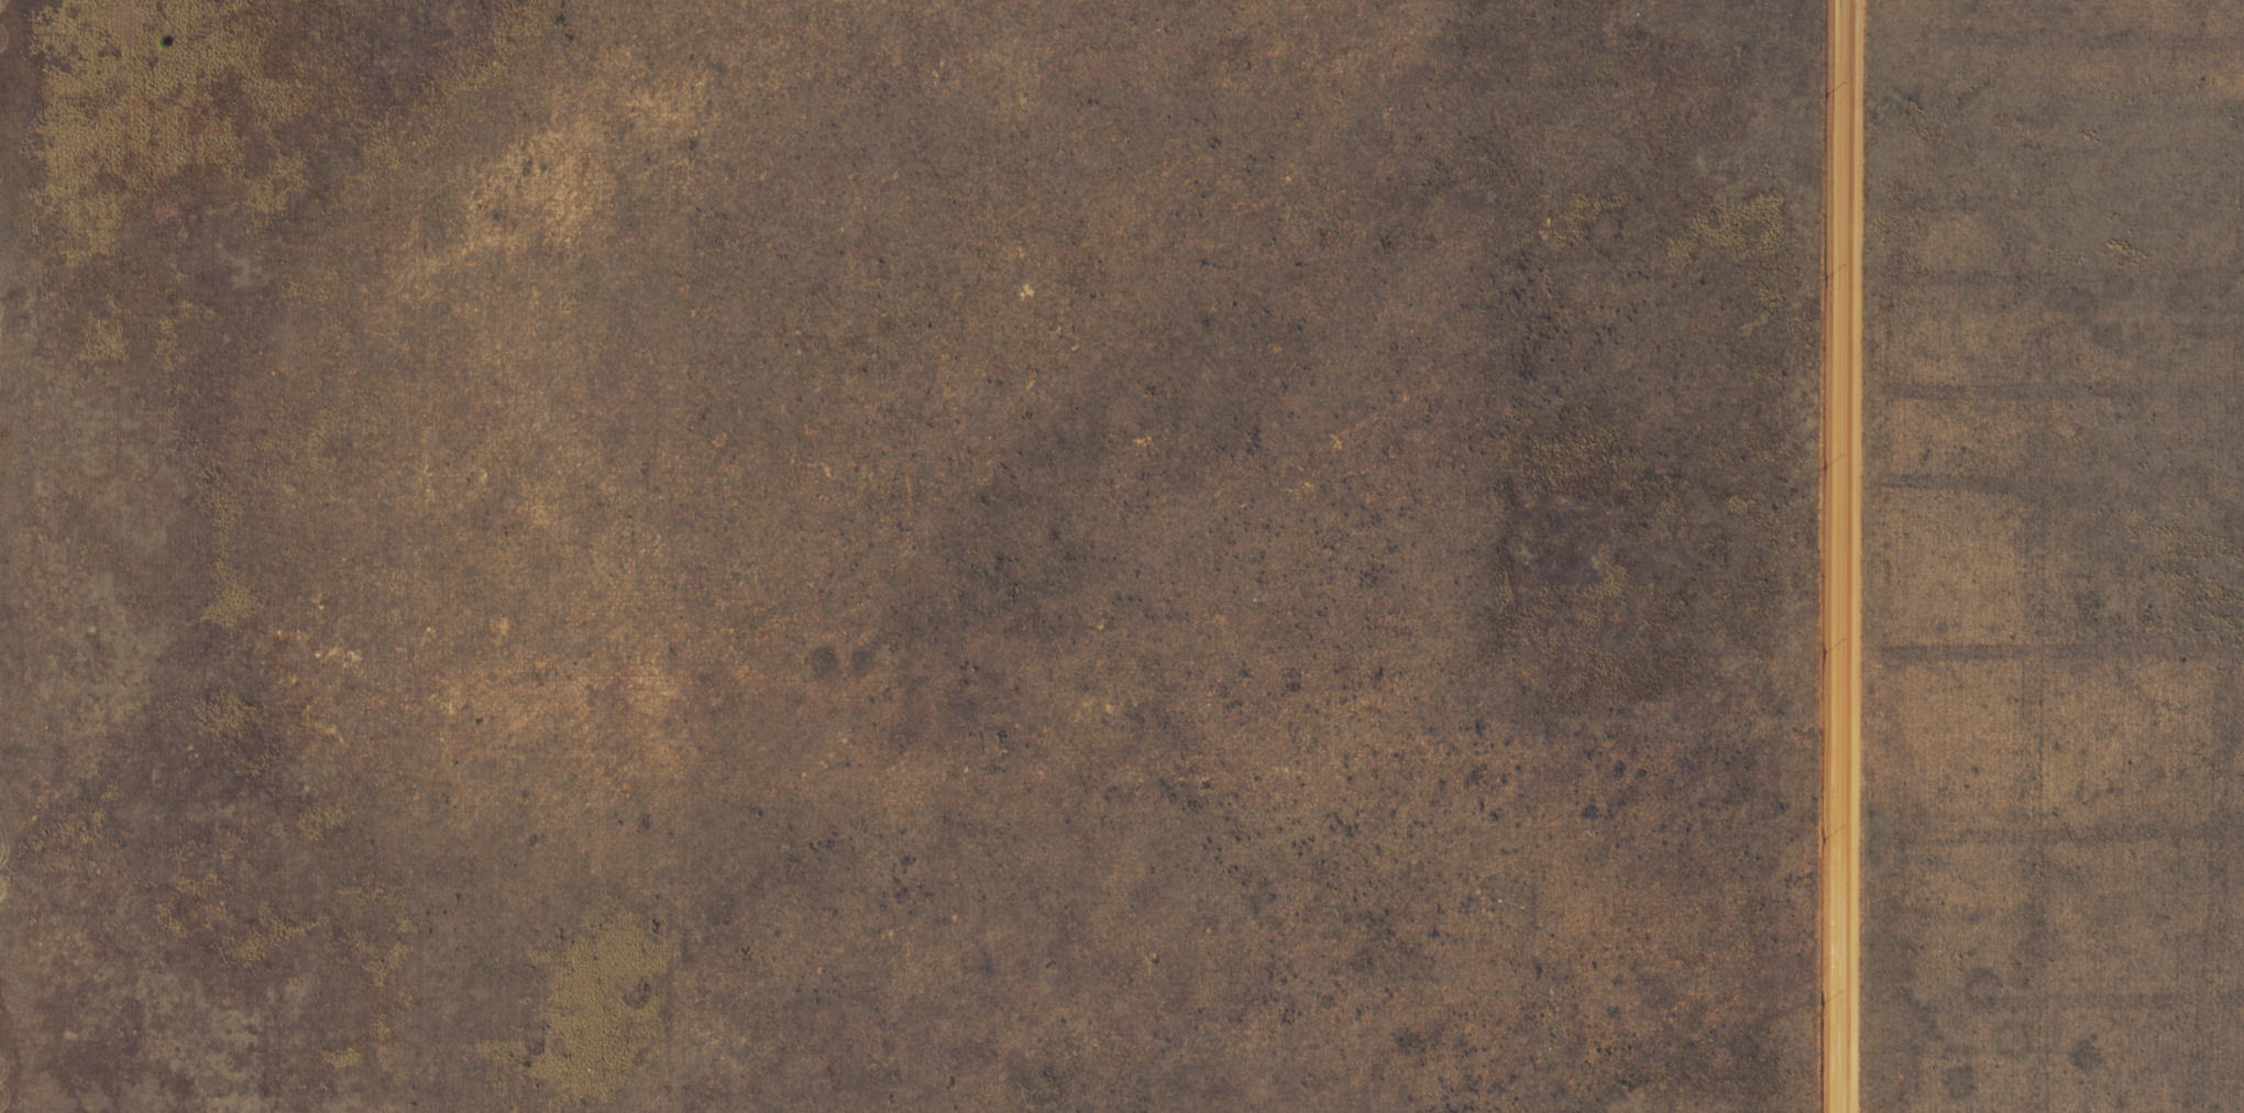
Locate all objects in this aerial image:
road: (2060, 106)
road: (1876, 555)

